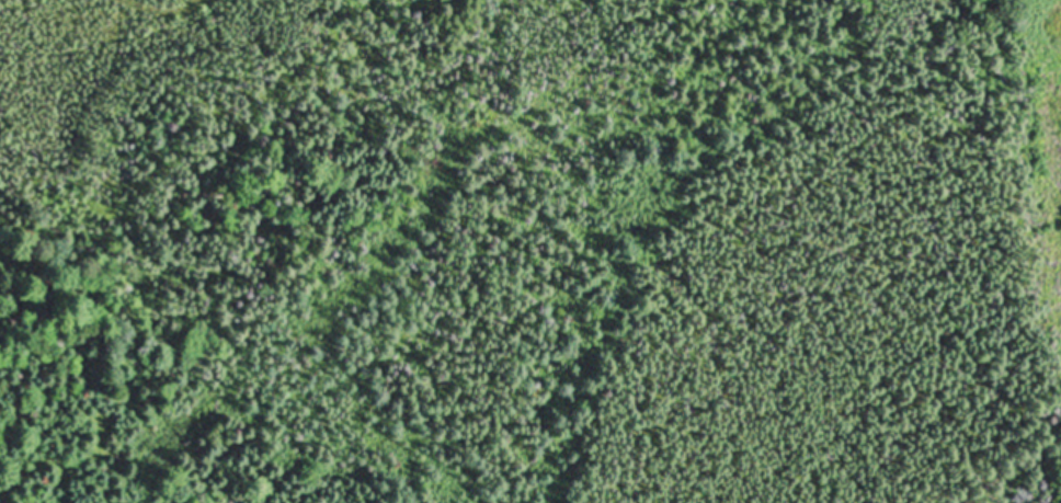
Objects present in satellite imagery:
crop: (1045, 52)

